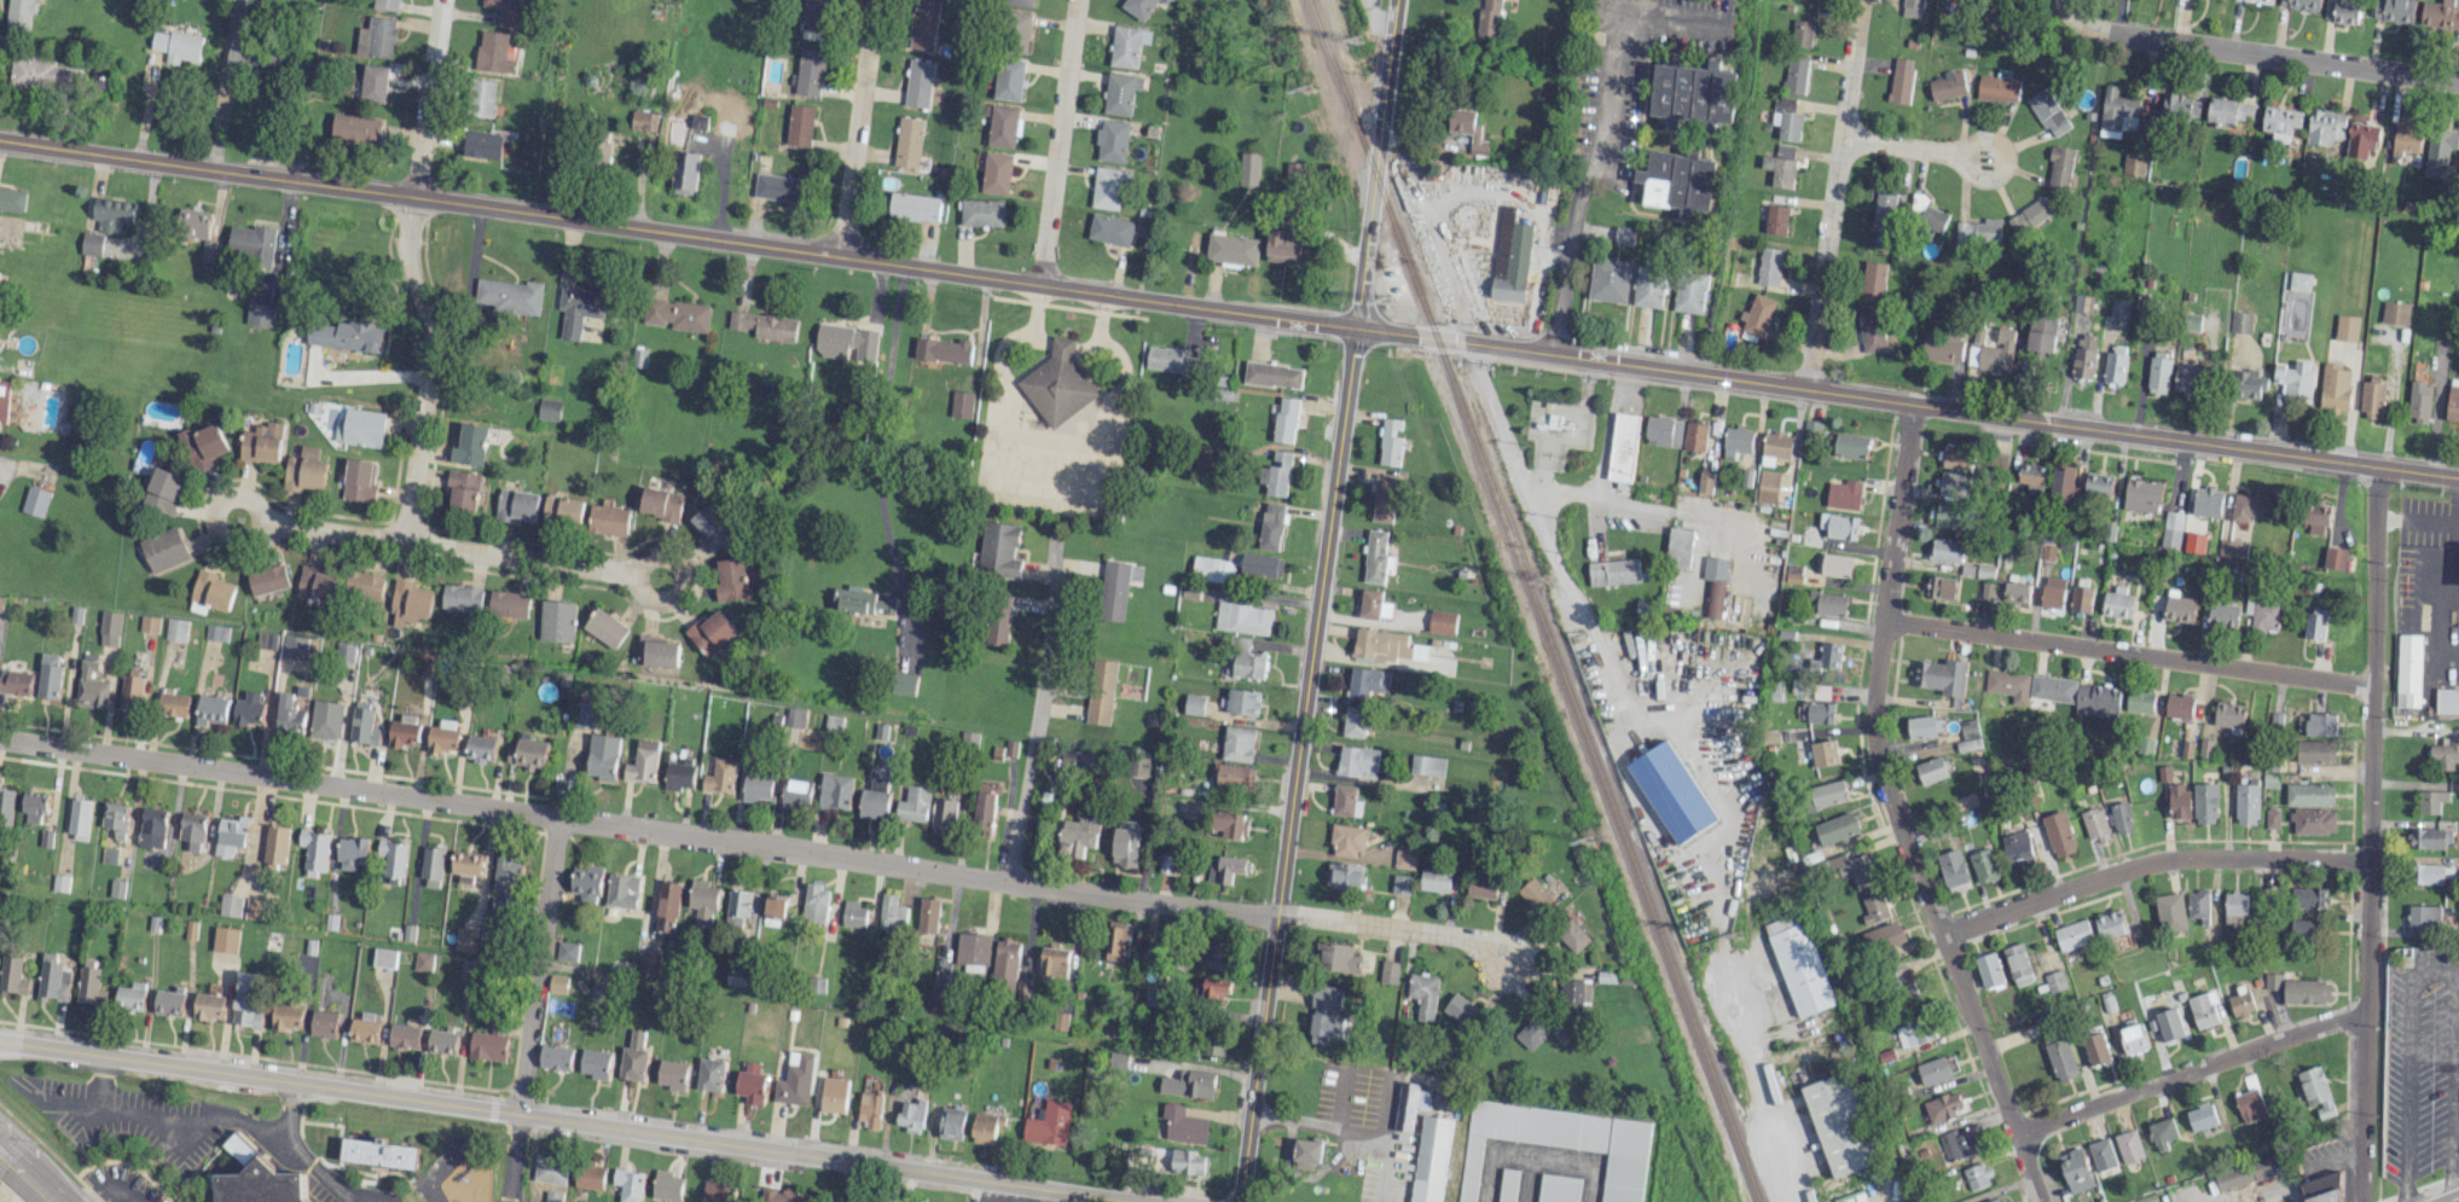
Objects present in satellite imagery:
building: (2256, 0)
building: (1014, 1)
building: (1950, 1)
building: (387, 4)
building: (2301, 4)
building: (1139, 7)
building: (1910, 7)
building: (2394, 10)
building: (506, 11)
building: (2342, 11)
building: (814, 14)
building: (2440, 14)
building: (19, 16)
road: (1376, 16)
building: (1490, 17)
road: (1666, 18)
building: (923, 24)
building: (1022, 24)
building: (1800, 33)
building: (377, 37)
power tower: (1359, 39)
building: (1127, 45)
building: (176, 46)
road: (2252, 52)
building: (248, 53)
building: (494, 53)
building: (808, 71)
building: (46, 74)
building: (1794, 75)
building: (1009, 79)
building: (1901, 80)
building: (918, 82)
building: (373, 83)
building: (1948, 85)
building: (1997, 88)
power tower: (1307, 91)
building: (1121, 92)
building: (1693, 93)
building: (481, 98)
building: (2181, 106)
building: (2231, 110)
building: (2047, 111)
building: (2118, 111)
building: (1786, 118)
building: (2280, 122)
building: (800, 124)
building: (1003, 126)
building: (2325, 126)
road: (857, 128)
building: (1468, 128)
building: (356, 129)
building: (2406, 138)
building: (2361, 139)
building: (1112, 140)
building: (909, 141)
road: (1059, 141)
building: (482, 145)
road: (1915, 149)
building: (2438, 151)
building: (2134, 162)
building: (1780, 164)
building: (1249, 168)
building: (2059, 168)
building: (684, 172)
building: (998, 173)
building: (1677, 181)
road: (1587, 182)
building: (777, 186)
road: (1834, 193)
building: (12, 197)
building: (915, 205)
building: (1887, 208)
building: (981, 213)
building: (1926, 214)
building: (112, 215)
building: (2029, 215)
building: (1775, 219)
building: (195, 223)
building: (1110, 228)
building: (1977, 232)
building: (1624, 234)
building: (253, 243)
building: (92, 244)
building: (1282, 245)
building: (1242, 250)
building: (207, 251)
building: (1510, 256)
building: (1769, 266)
road: (410, 271)
building: (1610, 279)
building: (1872, 281)
building: (1648, 286)
building: (1689, 292)
building: (510, 296)
power tower: (1386, 298)
building: (2083, 303)
building: (2118, 307)
building: (579, 309)
building: (655, 309)
road: (1229, 309)
building: (2395, 312)
building: (1757, 313)
building: (260, 314)
road: (1033, 321)
building: (2240, 321)
building: (765, 325)
building: (2347, 327)
building: (1872, 330)
road: (1100, 333)
building: (346, 336)
building: (2040, 336)
road: (1062, 344)
building: (940, 350)
building: (1997, 352)
building: (2083, 360)
building: (2116, 364)
building: (2159, 372)
building: (1271, 373)
building: (2186, 378)
building: (2295, 381)
building: (1057, 383)
building: (2246, 383)
building: (2335, 388)
building: (1222, 391)
building: (2, 399)
building: (2371, 399)
building: (2419, 402)
building: (2452, 402)
building: (549, 410)
building: (1284, 419)
road: (880, 426)
building: (360, 428)
building: (1811, 429)
building: (1663, 430)
road: (1051, 436)
building: (1694, 436)
building: (1736, 441)
building: (1390, 442)
building: (262, 443)
building: (471, 443)
building: (1849, 445)
building: (203, 446)
building: (1775, 446)
building: (1622, 448)
building: (1960, 457)
building: (305, 470)
building: (1275, 472)
building: (1746, 476)
building: (2032, 477)
building: (358, 481)
building: (1706, 482)
building: (1954, 483)
building: (2064, 484)
building: (2098, 484)
building: (1769, 486)
building: (463, 490)
building: (163, 492)
building: (1844, 494)
building: (2142, 495)
building: (1384, 498)
building: (34, 501)
building: (2208, 501)
building: (516, 506)
road: (1658, 507)
building: (2252, 507)
building: (562, 512)
road: (214, 515)
building: (1949, 515)
building: (2315, 517)
building: (610, 519)
building: (1270, 525)
building: (1839, 525)
building: (2171, 529)
road: (1542, 533)
road: (2453, 533)
building: (2194, 541)
road: (446, 546)
building: (1678, 547)
building: (163, 550)
building: (998, 550)
building: (1947, 550)
building: (1375, 556)
building: (2335, 557)
building: (1260, 564)
building: (1835, 564)
building: (1984, 570)
building: (1613, 571)
road: (634, 575)
building: (267, 579)
power tower: (1552, 579)
building: (731, 580)
building: (317, 585)
building: (1713, 585)
building: (365, 586)
building: (1942, 586)
building: (1113, 590)
building: (211, 591)
building: (1987, 591)
building: (2016, 592)
building: (2053, 592)
building: (462, 598)
building: (2081, 598)
railway: (1536, 599)
building: (411, 600)
road: (1317, 600)
building: (1827, 603)
building: (2117, 603)
building: (508, 604)
building: (1373, 604)
building: (2179, 608)
road: (2446, 609)
building: (2222, 614)
building: (2266, 615)
building: (1248, 619)
building: (556, 621)
building: (1443, 621)
building: (149, 623)
building: (2315, 623)
building: (605, 627)
building: (110, 628)
building: (175, 629)
building: (215, 632)
building: (711, 632)
building: (266, 640)
building: (1385, 645)
building: (294, 648)
building: (344, 651)
building: (1827, 656)
road: (2127, 656)
building: (1247, 660)
building: (1942, 675)
building: (50, 677)
building: (1367, 681)
building: (16, 683)
building: (2007, 684)
building: (92, 686)
building: (2052, 687)
building: (131, 692)
building: (2096, 699)
building: (2447, 699)
building: (2140, 701)
building: (1242, 702)
building: (173, 704)
building: (2179, 705)
road: (1037, 707)
building: (248, 708)
building: (211, 709)
building: (1817, 712)
building: (290, 714)
building: (2228, 714)
building: (585, 715)
building: (326, 721)
building: (1355, 721)
building: (2321, 724)
building: (364, 726)
building: (1920, 726)
building: (404, 734)
building: (1968, 736)
building: (442, 739)
building: (1240, 743)
building: (1463, 744)
building: (481, 748)
building: (2315, 750)
building: (527, 753)
building: (1823, 753)
building: (2444, 753)
building: (602, 756)
building: (642, 761)
building: (1358, 761)
building: (1428, 765)
building: (1932, 770)
road: (569, 774)
building: (678, 776)
building: (719, 776)
building: (1240, 777)
road: (279, 778)
building: (755, 785)
building: (834, 790)
building: (1671, 791)
building: (1827, 794)
building: (2309, 794)
building: (1346, 800)
building: (2179, 800)
building: (2246, 800)
building: (2431, 800)
building: (6, 802)
building: (874, 802)
building: (2204, 802)
building: (914, 803)
building: (34, 807)
road: (1895, 812)
building: (79, 818)
building: (115, 818)
building: (2121, 818)
building: (2272, 818)
building: (2313, 820)
building: (1236, 824)
building: (2095, 824)
building: (152, 828)
building: (1835, 828)
building: (192, 831)
building: (2058, 832)
road: (2371, 834)
building: (1077, 835)
building: (231, 836)
building: (2428, 837)
building: (1346, 840)
power tower: (1590, 841)
building: (276, 844)
building: (1124, 847)
building: (2017, 849)
building: (314, 850)
building: (352, 853)
building: (393, 858)
building: (1405, 858)
road: (2150, 860)
building: (1173, 861)
building: (1984, 865)
building: (431, 866)
building: (1235, 866)
building: (465, 867)
road: (917, 869)
building: (1953, 869)
building: (1854, 870)
building: (2430, 873)
building: (1344, 876)
building: (1434, 878)
building: (585, 883)
building: (1402, 884)
building: (504, 885)
building: (1481, 885)
building: (116, 888)
building: (621, 890)
building: (1535, 893)
building: (2308, 896)
building: (701, 901)
building: (665, 905)
building: (2199, 905)
building: (230, 906)
building: (736, 906)
building: (771, 906)
building: (1874, 907)
building: (2235, 907)
building: (253, 908)
building: (2170, 912)
building: (853, 913)
building: (927, 914)
building: (2423, 916)
building: (2110, 924)
road: (1394, 928)
building: (191, 929)
building: (2302, 929)
building: (1573, 934)
building: (2072, 934)
building: (1884, 936)
power tower: (1739, 937)
building: (465, 939)
building: (226, 940)
building: (1117, 940)
building: (972, 948)
building: (566, 951)
building: (384, 958)
building: (1338, 958)
building: (423, 962)
building: (1800, 963)
building: (2017, 964)
road: (538, 965)
building: (1008, 965)
building: (1989, 969)
building: (1390, 971)
road: (2434, 975)
road: (2457, 975)
building: (12, 976)
building: (52, 979)
building: (2273, 980)
building: (2054, 981)
building: (557, 983)
building: (1216, 986)
building: (89, 987)
building: (2307, 991)
building: (1579, 992)
building: (597, 993)
building: (1423, 994)
building: (131, 997)
building: (169, 1001)
building: (209, 1004)
building: (2240, 1004)
building: (1460, 1009)
building: (2203, 1009)
building: (1326, 1012)
building: (288, 1015)
building: (324, 1023)
building: (2168, 1023)
building: (365, 1028)
building: (1532, 1032)
building: (1914, 1032)
building: (404, 1036)
building: (2133, 1038)
building: (442, 1041)
building: (488, 1044)
building: (2095, 1049)
building: (632, 1056)
building: (555, 1057)
building: (2060, 1057)
building: (595, 1063)
building: (1933, 1070)
building: (668, 1073)
building: (708, 1074)
road: (2192, 1075)
building: (794, 1081)
road: (100, 1082)
building: (748, 1085)
road: (2407, 1087)
road: (2452, 1088)
building: (2315, 1091)
road: (1763, 1093)
building: (2250, 1104)
building: (1409, 1105)
building: (1942, 1107)
building: (911, 1114)
building: (2202, 1116)
road: (170, 1117)
road: (568, 1121)
building: (1048, 1123)
road: (1311, 1123)
building: (1840, 1123)
building: (1184, 1127)
building: (2162, 1132)
building: (1560, 1142)
building: (1959, 1144)
building: (2129, 1145)
building: (377, 1152)
building: (1306, 1152)
building: (2103, 1154)
road: (301, 1155)
road: (511, 1157)
building: (1432, 1159)
building: (550, 1169)
building: (2075, 1169)
road: (437, 1171)
building: (2241, 1173)
building: (1978, 1175)
road: (27, 1177)
building: (588, 1177)
road: (114, 1181)
road: (852, 1181)
building: (1507, 1184)
building: (262, 1185)
building: (627, 1185)
road: (12, 1186)
building: (1558, 1188)
building: (2321, 1189)
road: (986, 1191)
building: (783, 1195)
road: (1036, 1195)
building: (552, 1196)
building: (1997, 1200)

